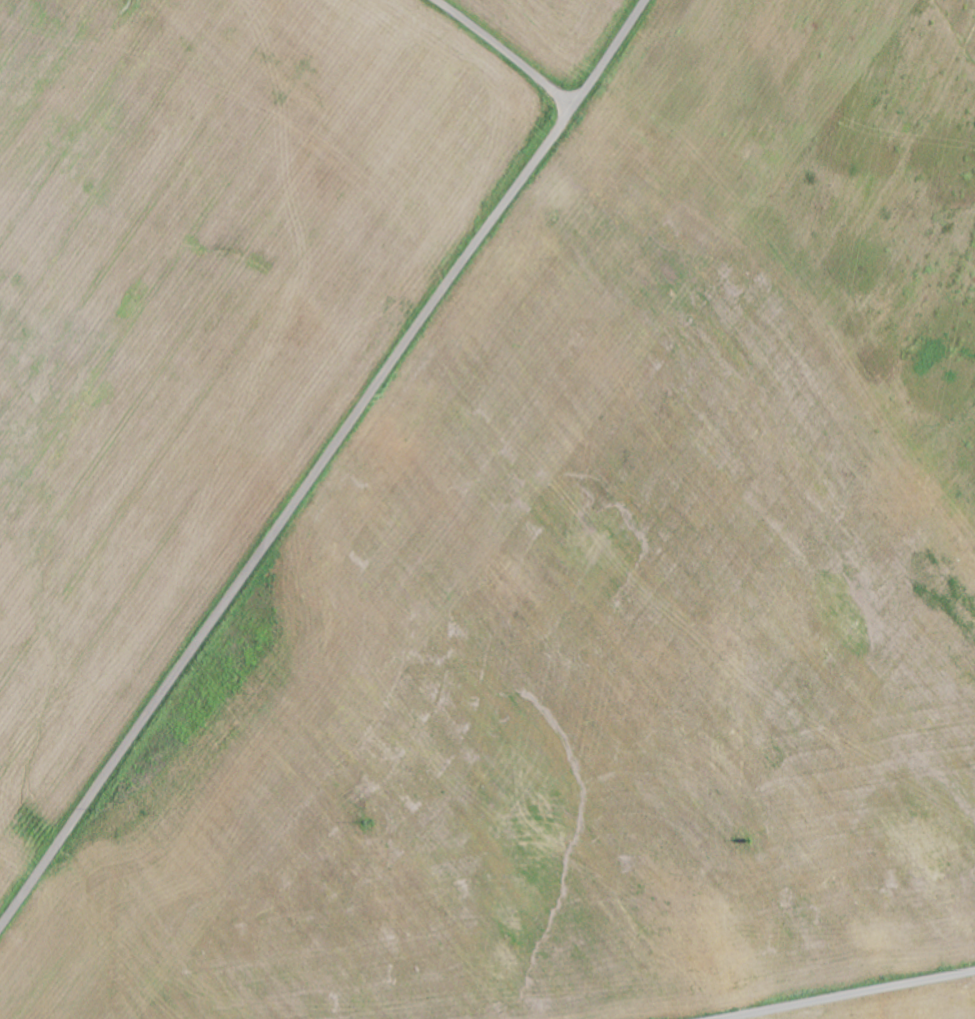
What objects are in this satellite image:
road: (506, 52)
road: (323, 463)
road: (846, 992)

